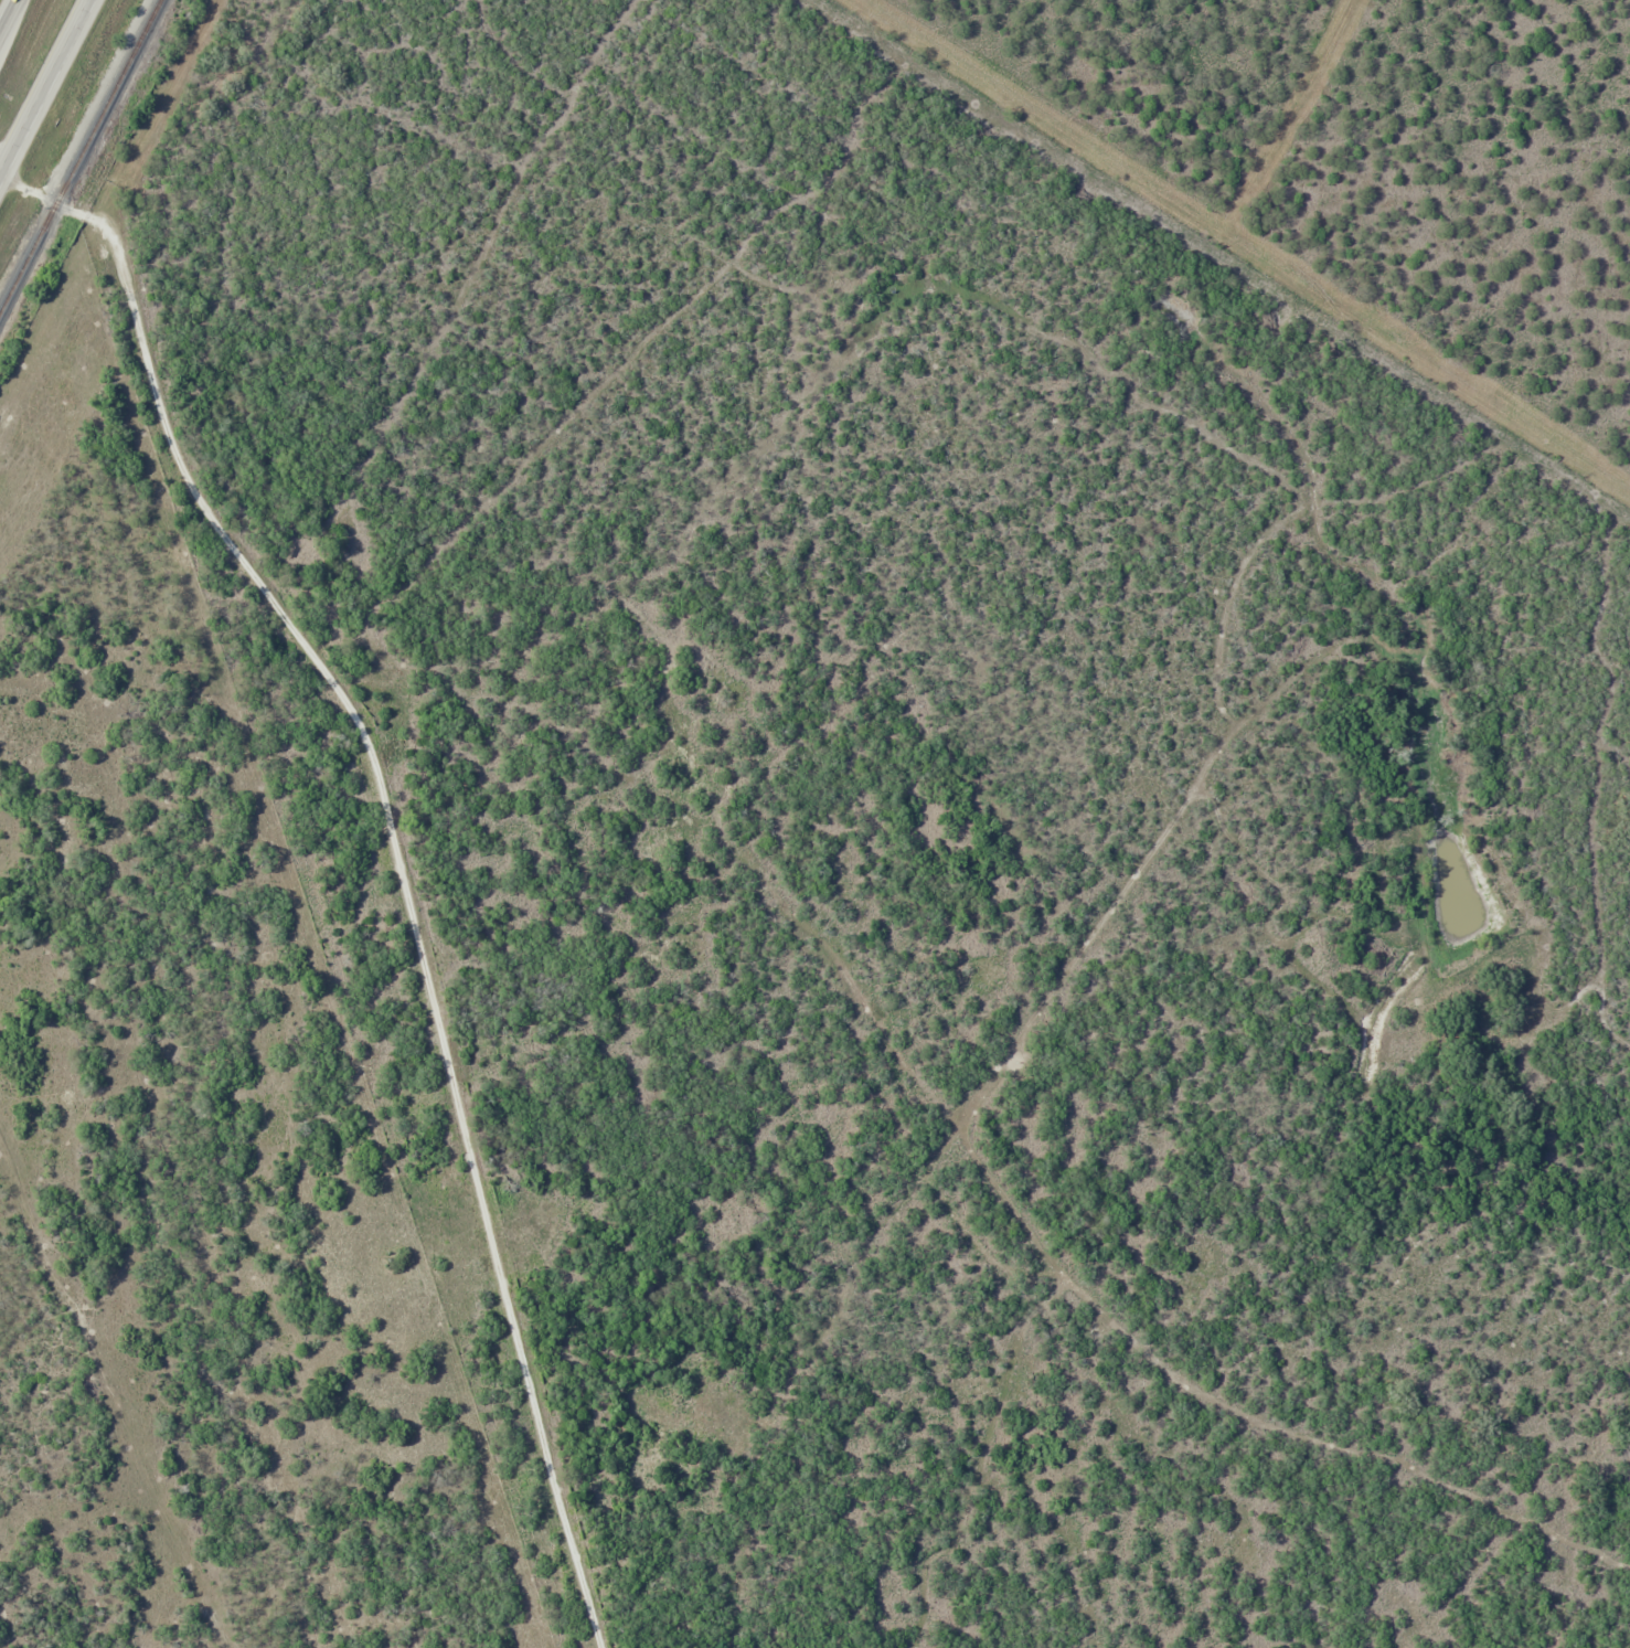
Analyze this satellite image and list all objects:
road: (7, 14)
road: (46, 91)
railway: (83, 161)
road: (2, 172)

